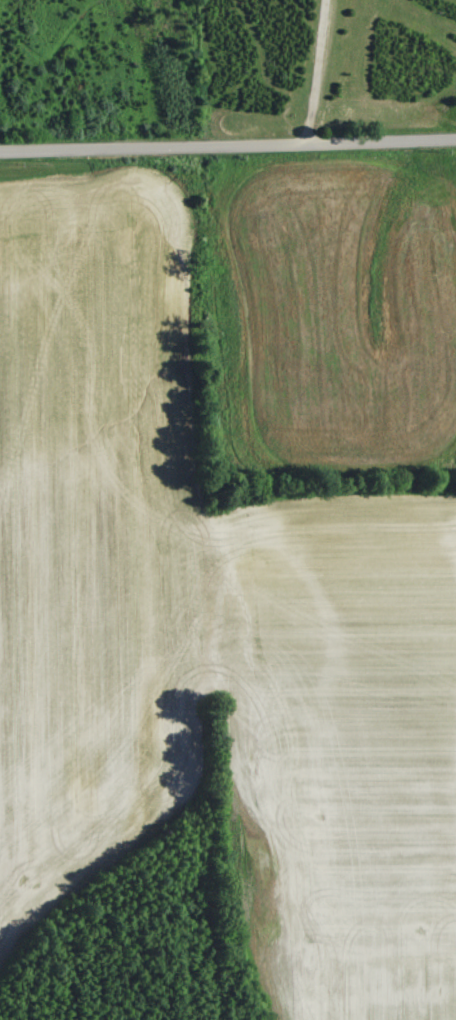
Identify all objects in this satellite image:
road: (319, 74)
road: (228, 151)

